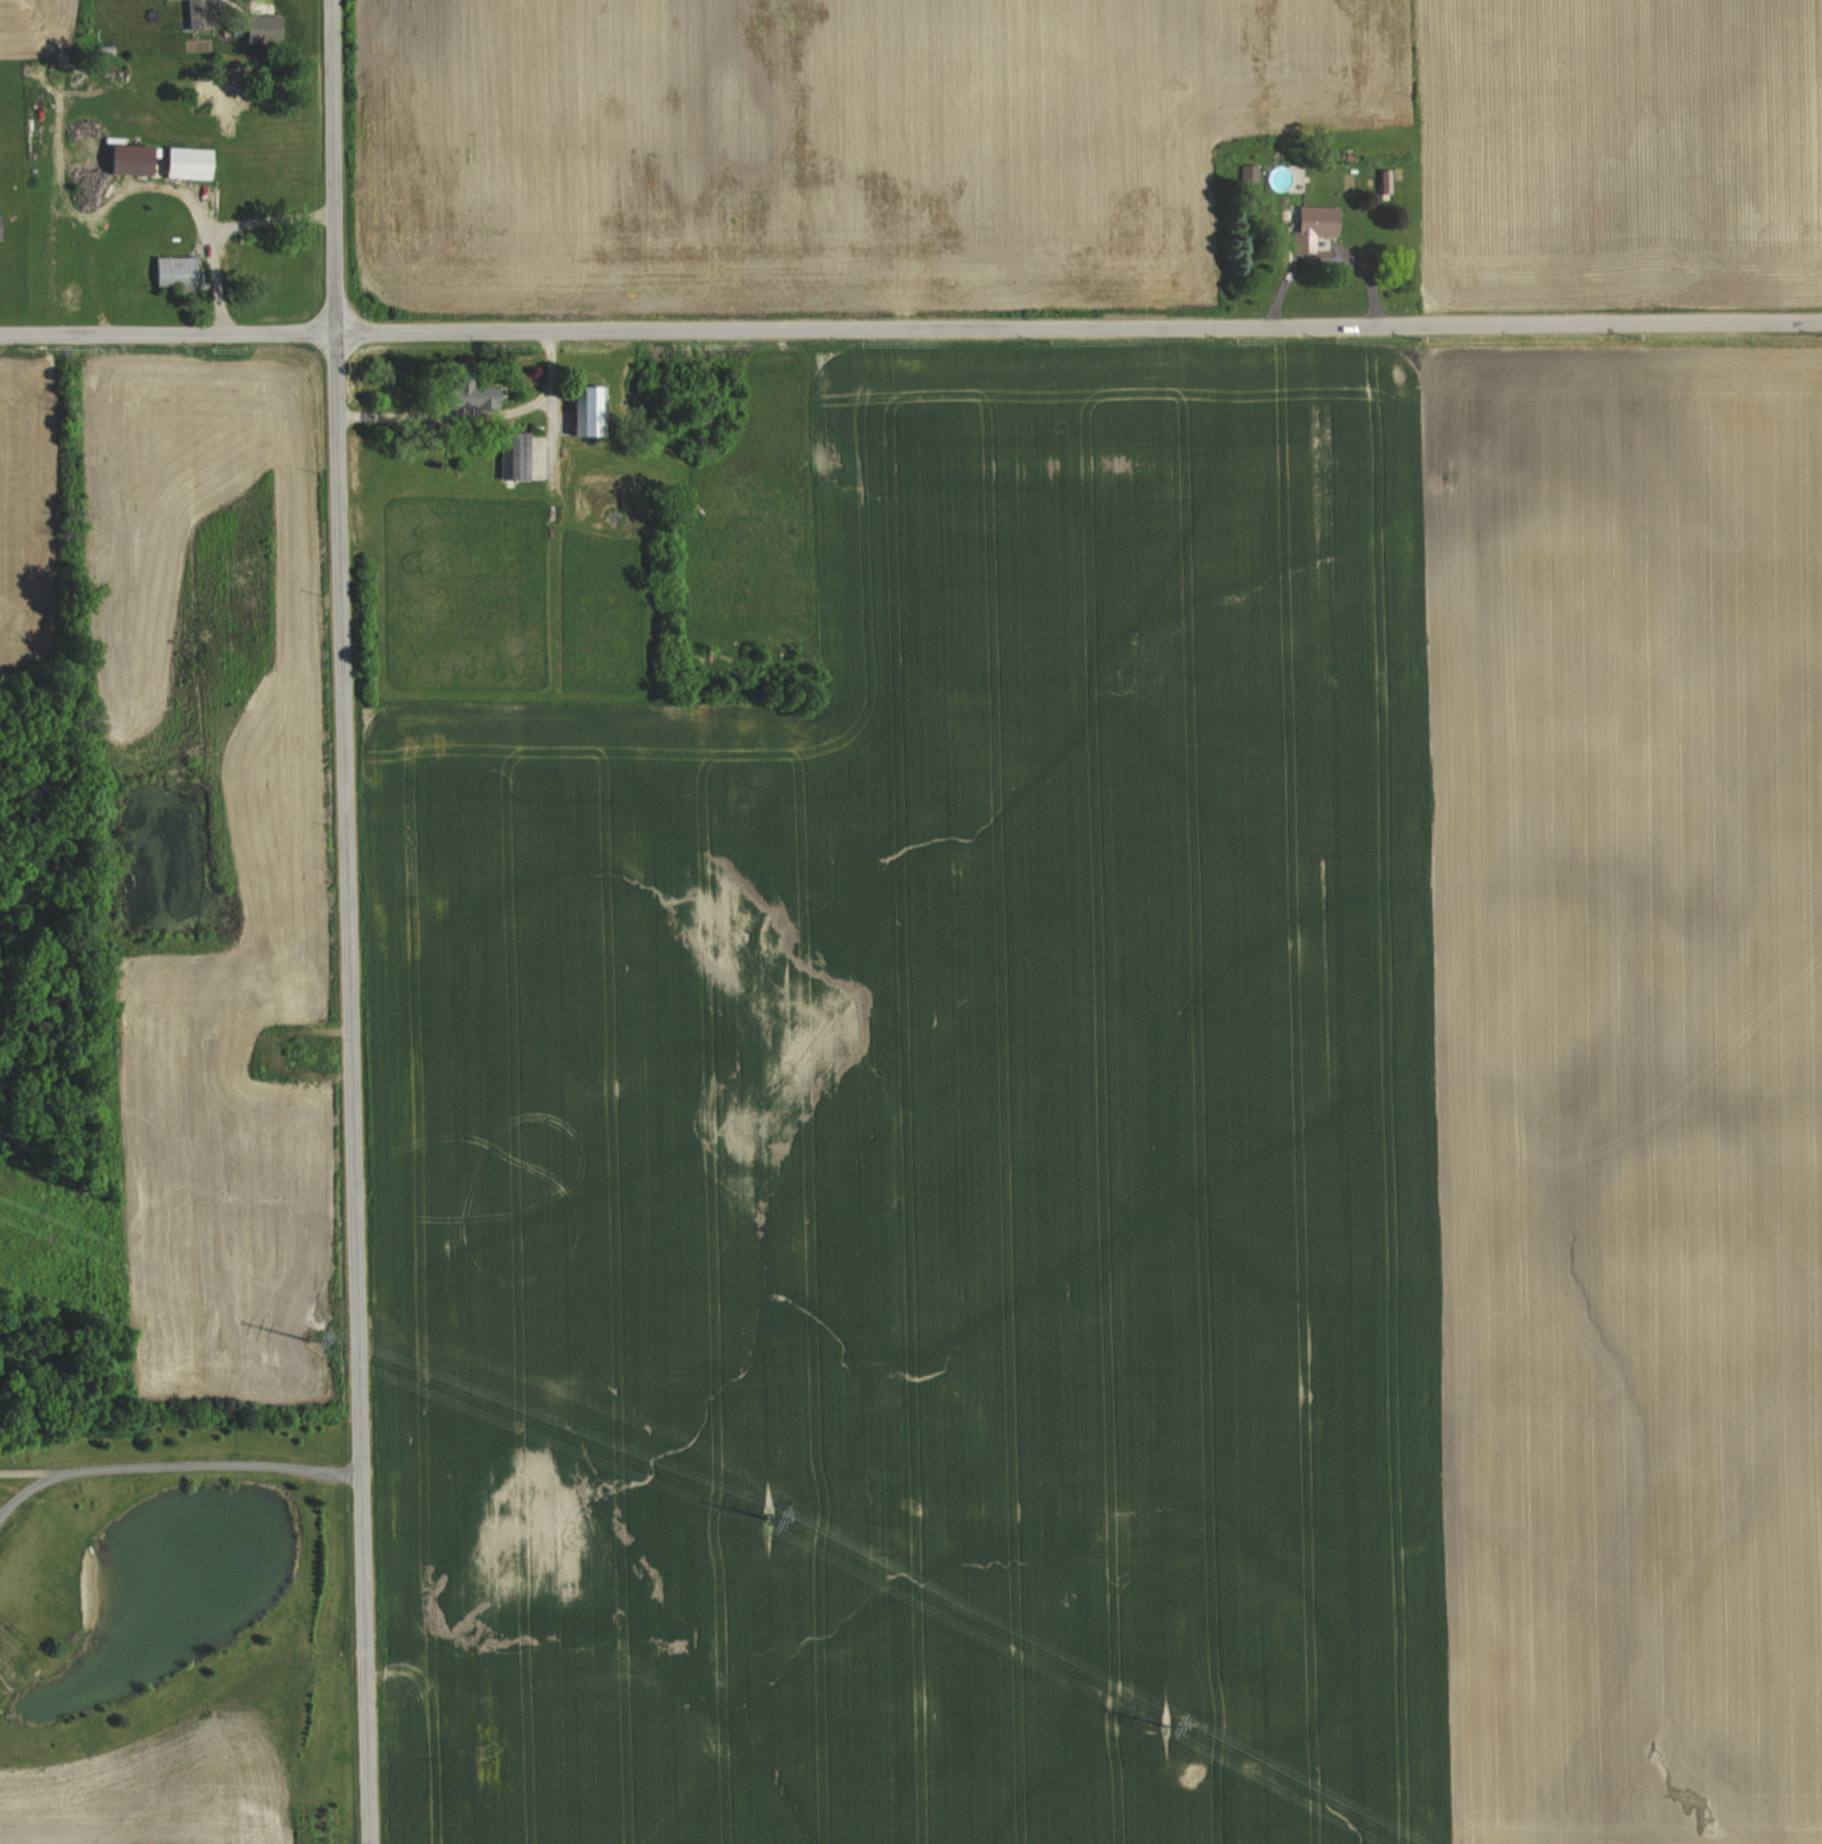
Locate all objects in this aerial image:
building: (191, 4)
building: (255, 26)
building: (119, 158)
building: (178, 161)
building: (1379, 179)
building: (1308, 224)
road: (229, 231)
building: (170, 269)
road: (911, 327)
building: (449, 393)
building: (485, 396)
building: (576, 409)
road: (481, 417)
building: (511, 455)
road: (349, 921)
power tower: (306, 1332)
road: (172, 1468)
road: (29, 1476)
power tower: (763, 1511)
power tower: (1164, 1718)

